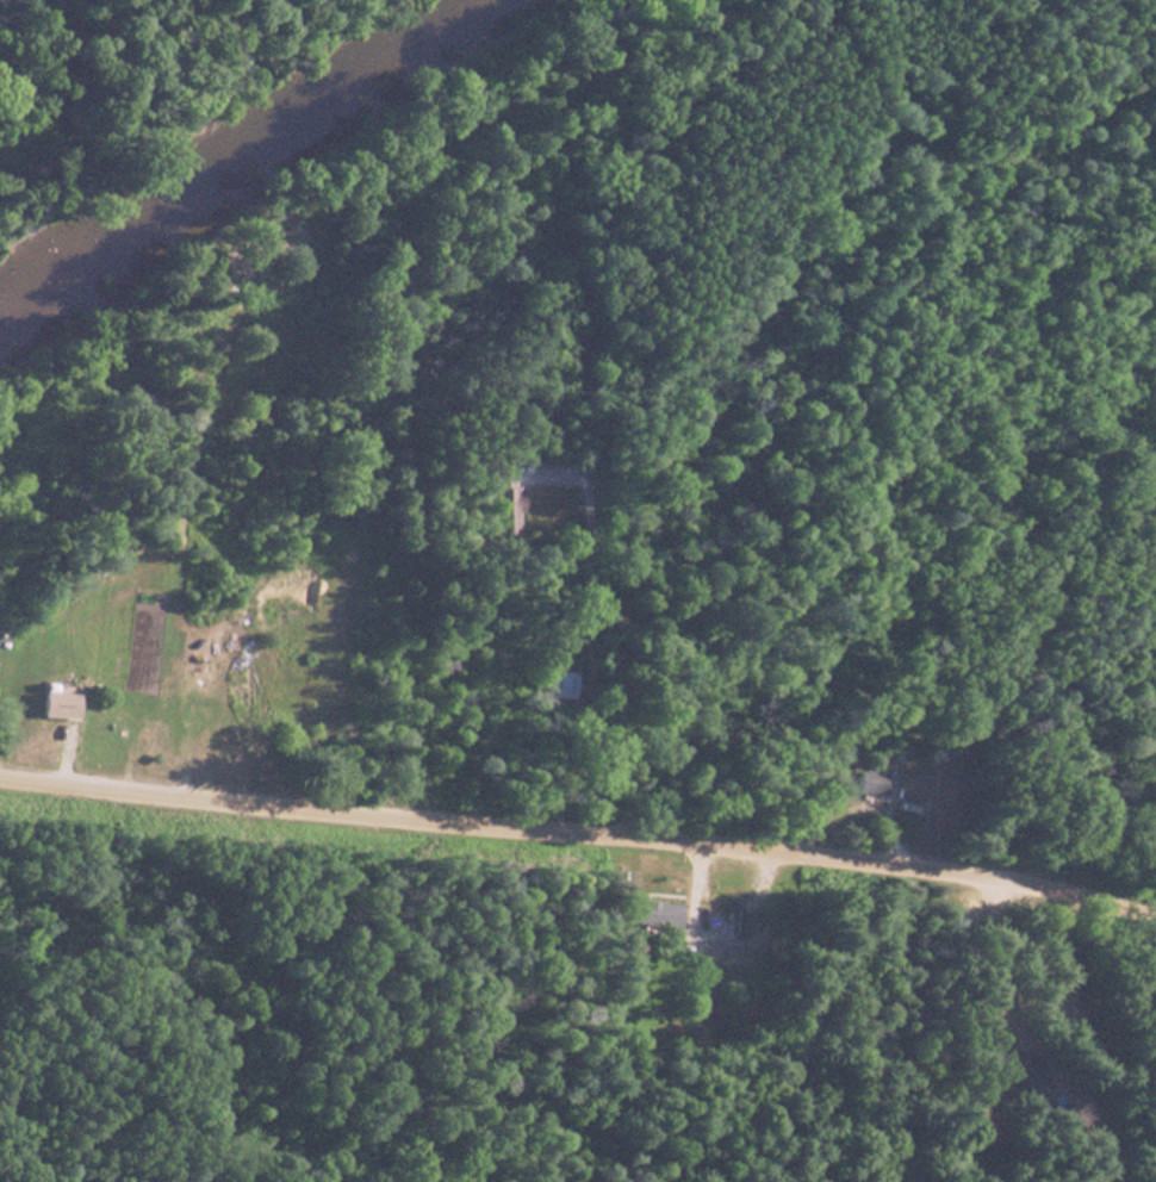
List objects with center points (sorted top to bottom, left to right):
park: (853, 142)
river: (263, 162)
building: (499, 500)
road: (583, 632)
building: (558, 683)
building: (54, 704)
building: (866, 780)
road: (580, 841)
building: (652, 913)
building: (745, 920)
park: (316, 997)
building: (1021, 1074)

